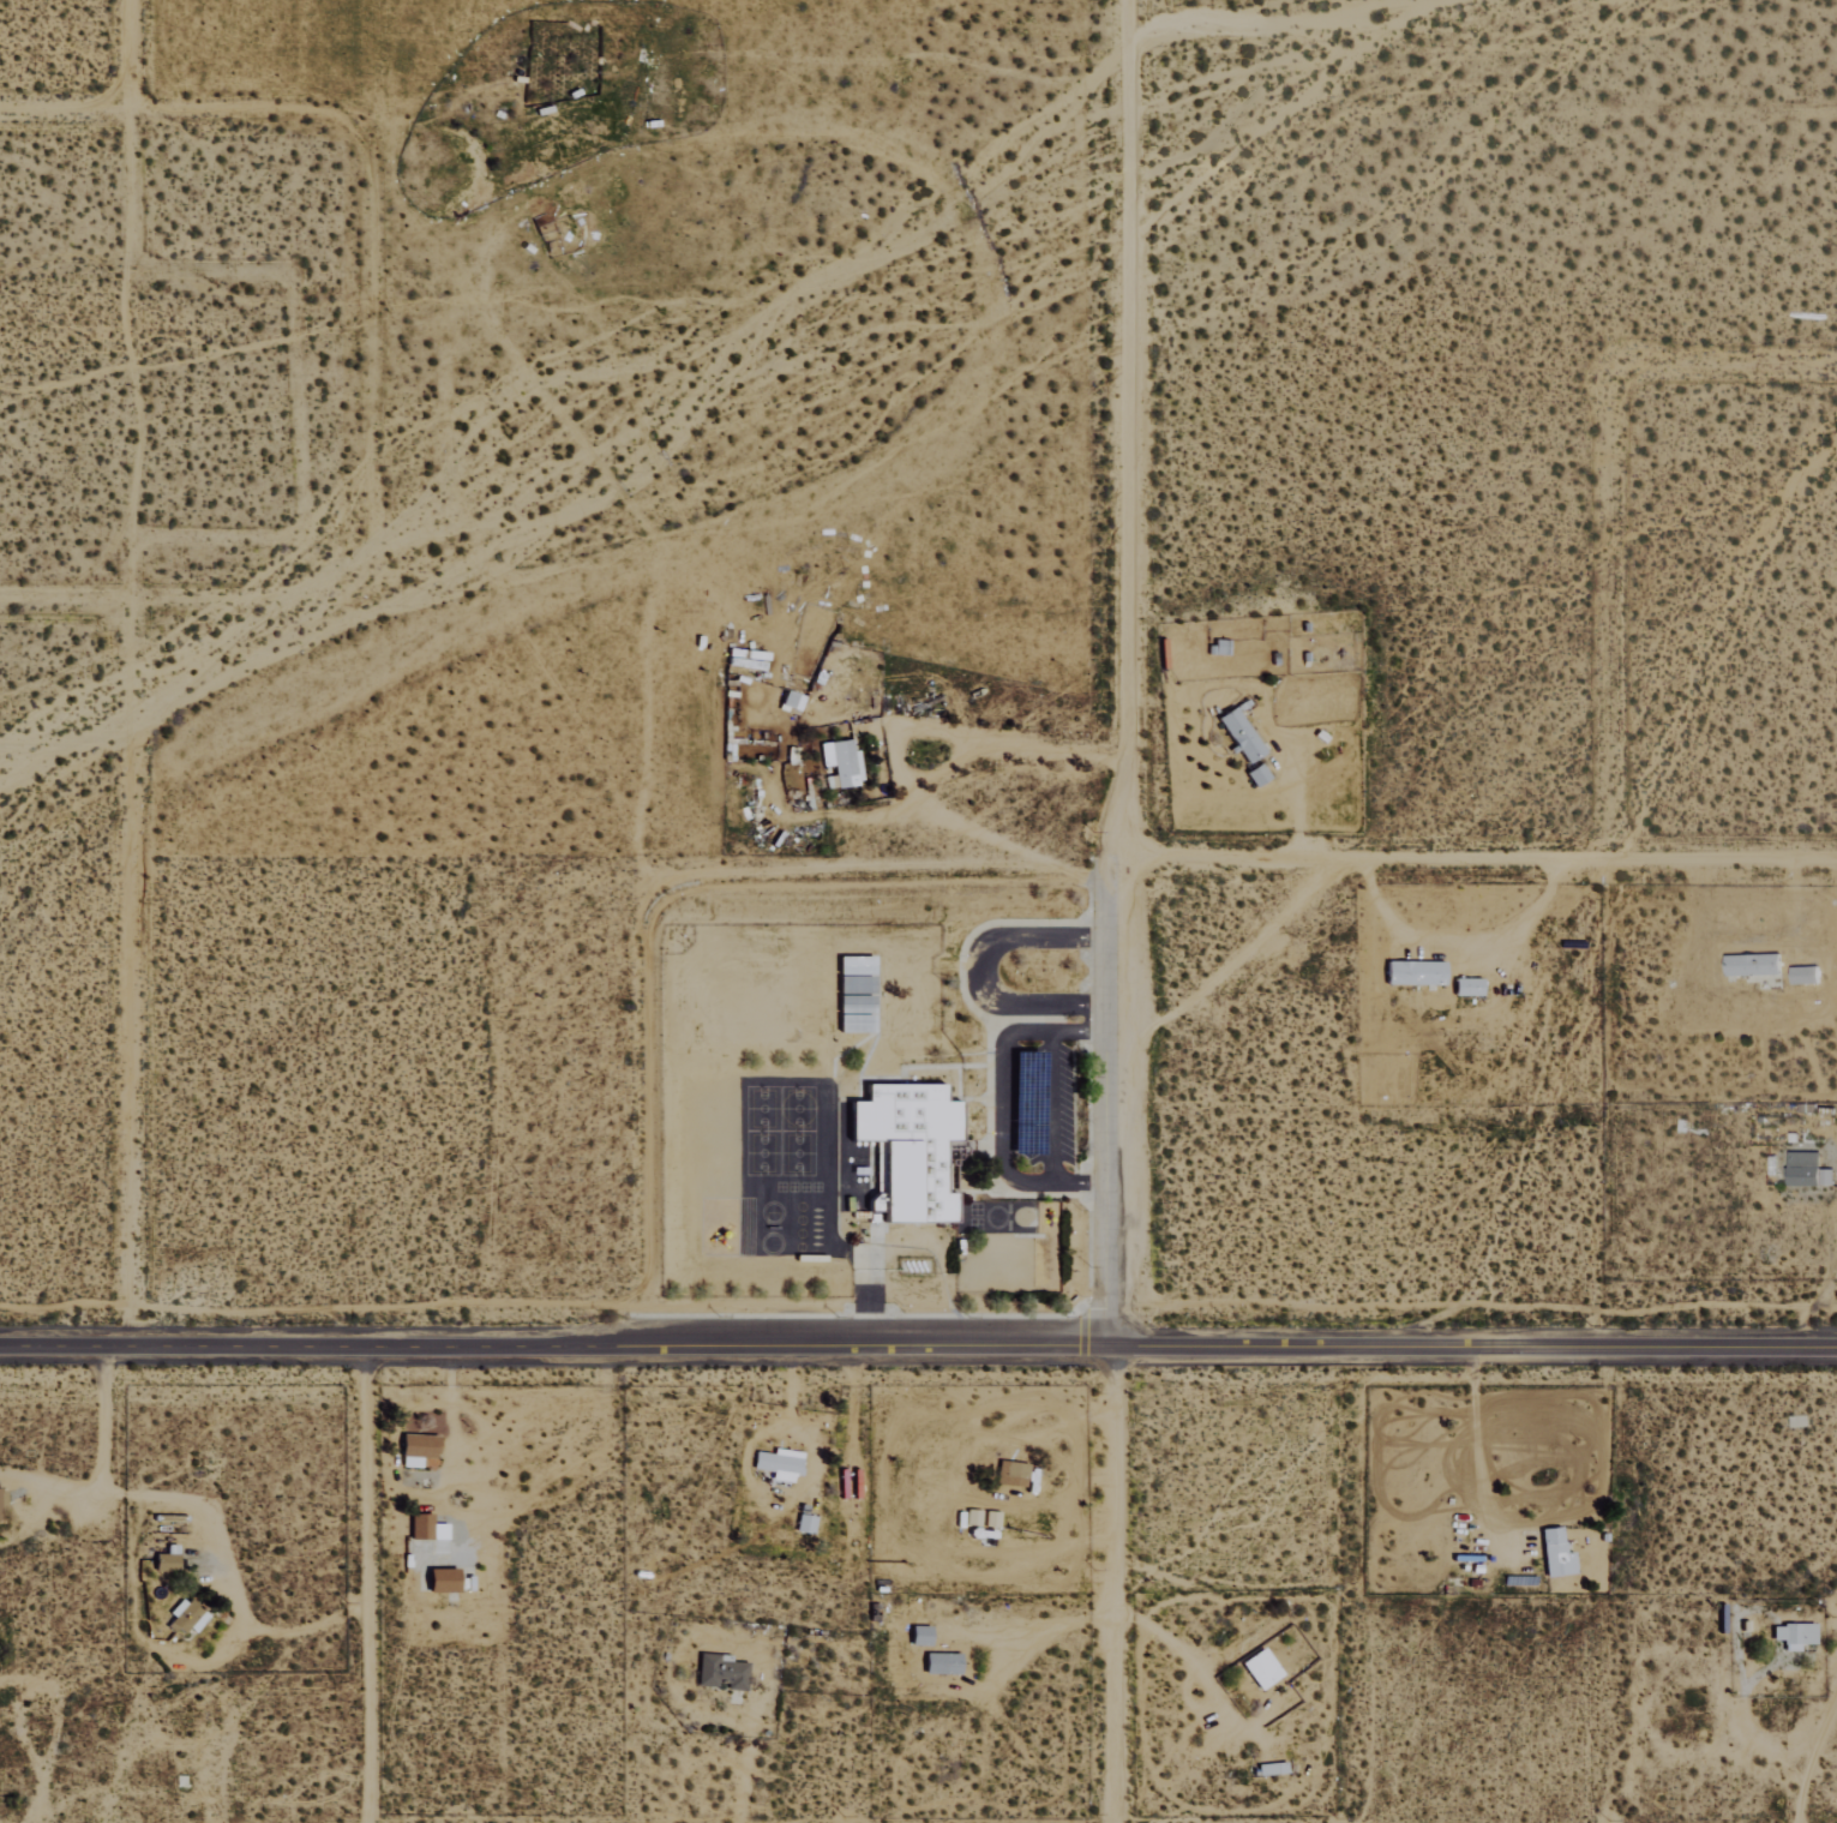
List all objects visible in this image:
road: (134, 58)
road: (179, 118)
road: (1130, 428)
road: (170, 602)
building: (792, 701)
building: (1239, 736)
building: (841, 762)
building: (1256, 775)
road: (1472, 860)
building: (1752, 965)
road: (983, 973)
building: (1415, 973)
building: (1802, 976)
road: (137, 977)
building: (1466, 988)
building: (856, 1015)
road: (1106, 1101)
road: (1004, 1104)
road: (1053, 1108)
building: (906, 1150)
building: (1806, 1170)
park: (788, 1171)
road: (918, 1345)
building: (779, 1464)
building: (1011, 1474)
building: (805, 1524)
building: (1556, 1553)
road: (1110, 1583)
road: (367, 1585)
building: (187, 1617)
building: (920, 1635)
building: (1794, 1636)
building: (942, 1663)
building: (1261, 1668)
building: (721, 1672)
building: (1272, 1769)

